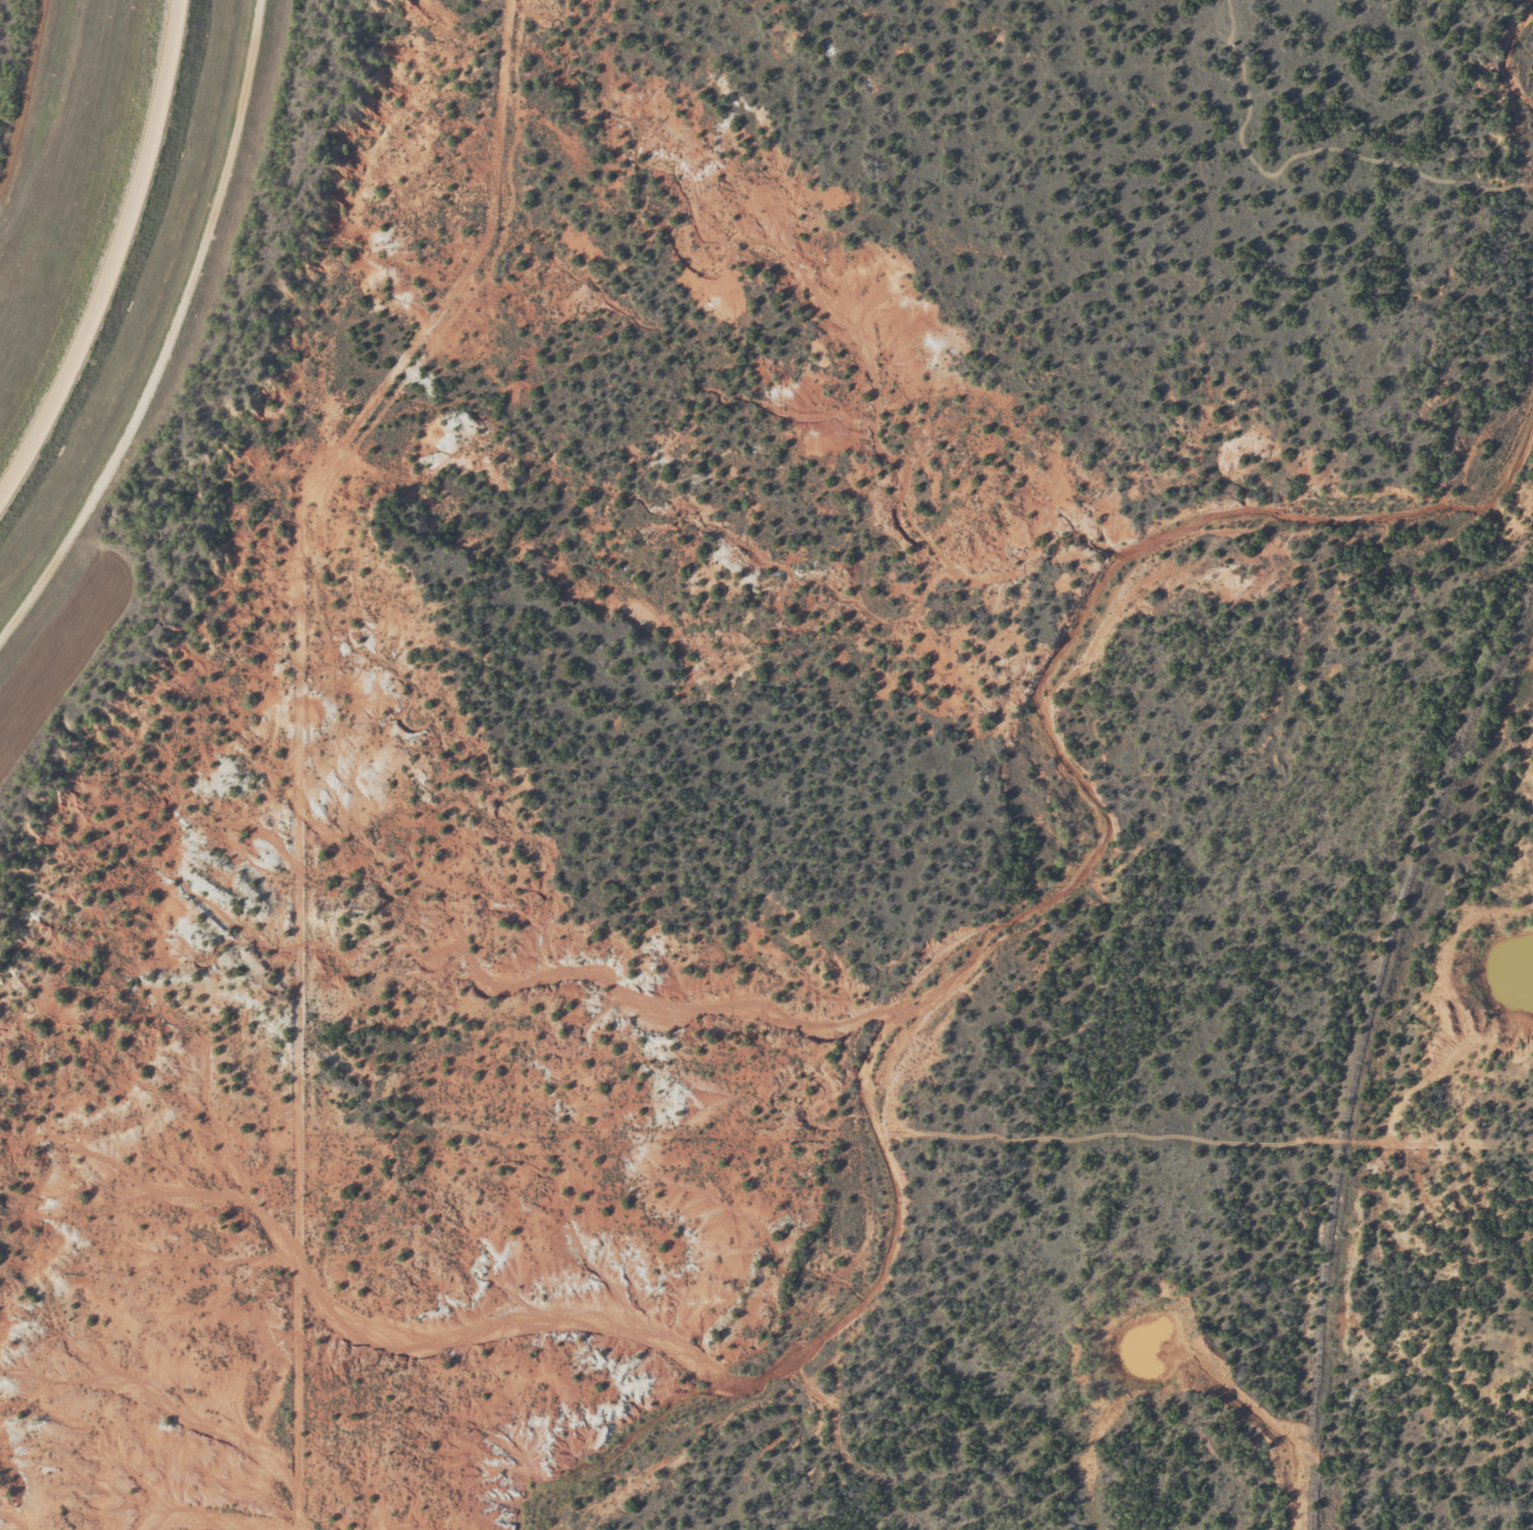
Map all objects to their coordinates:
road: (136, 217)
road: (21, 453)
railway: (1368, 1043)
road: (1527, 1120)

